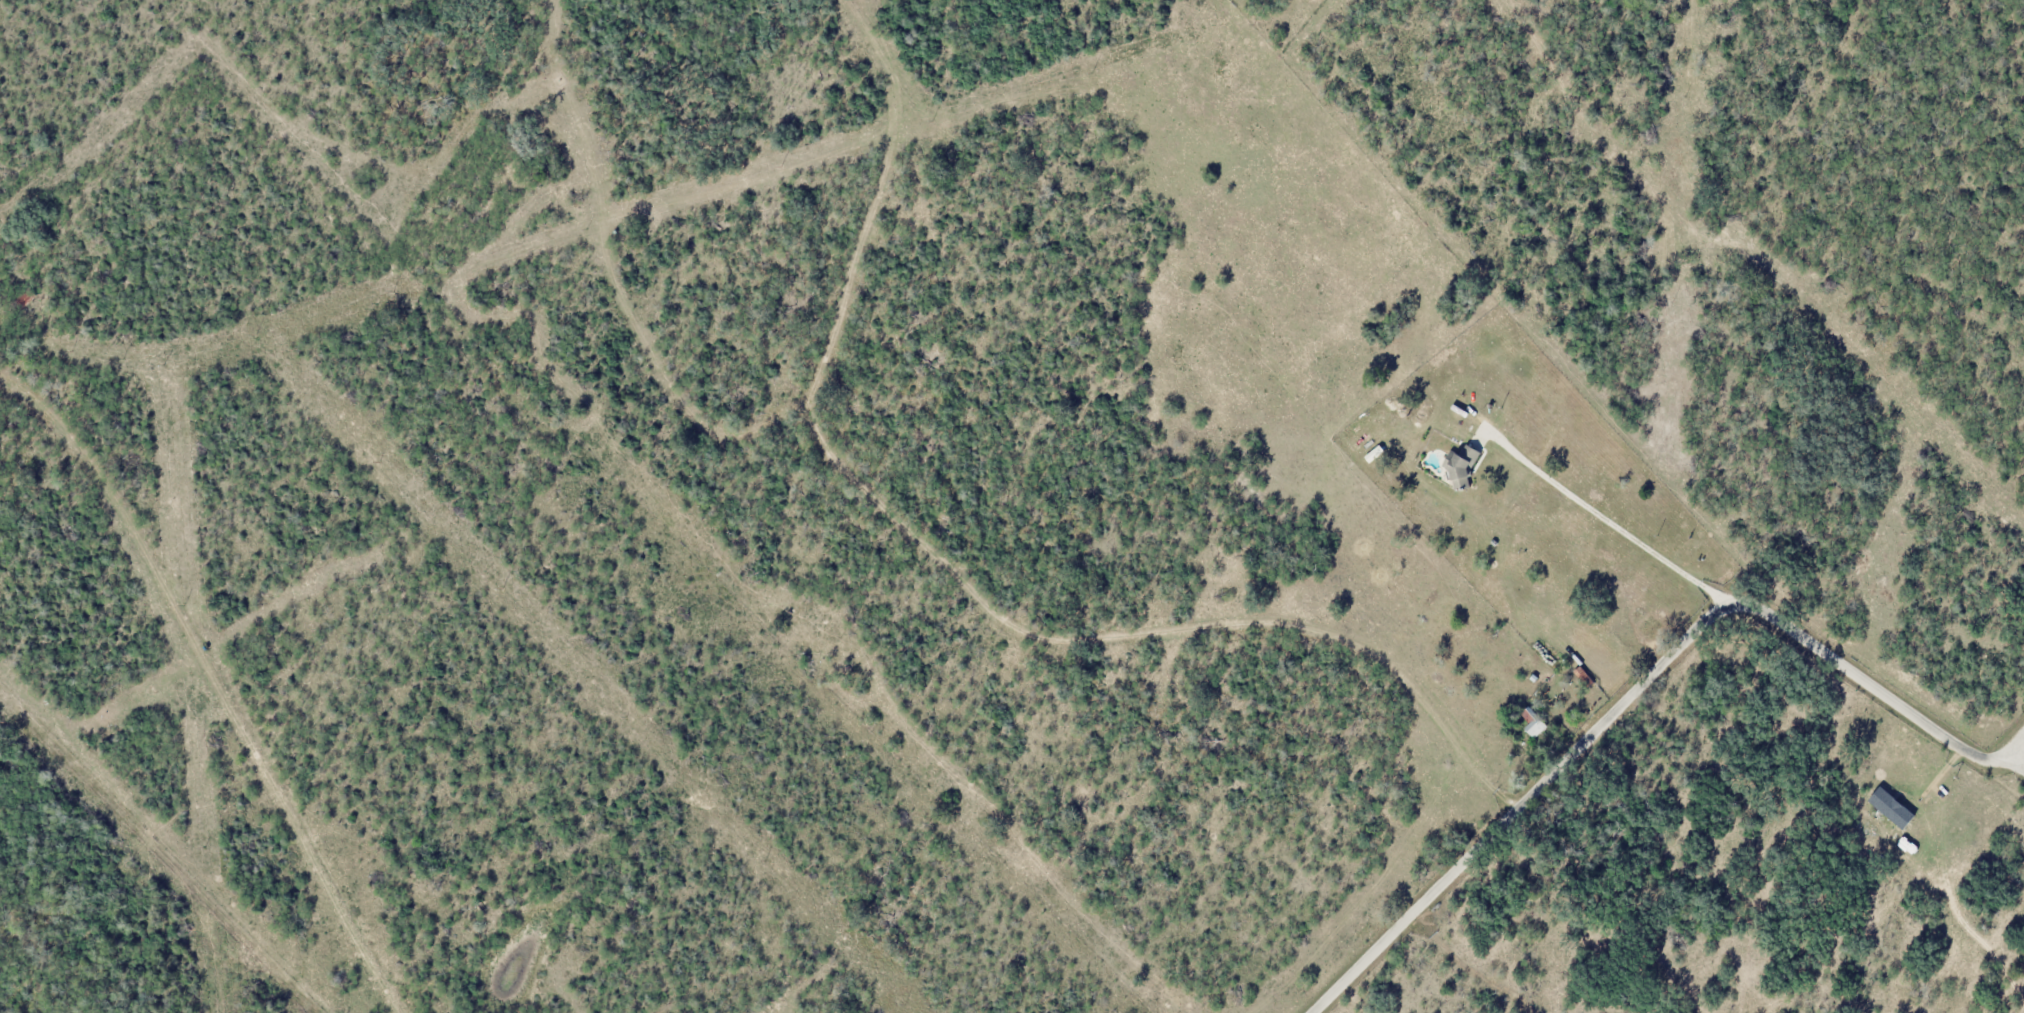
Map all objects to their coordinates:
building: (22, 298)
building: (1461, 465)
road: (953, 575)
road: (215, 681)
road: (1639, 686)
building: (1532, 722)

